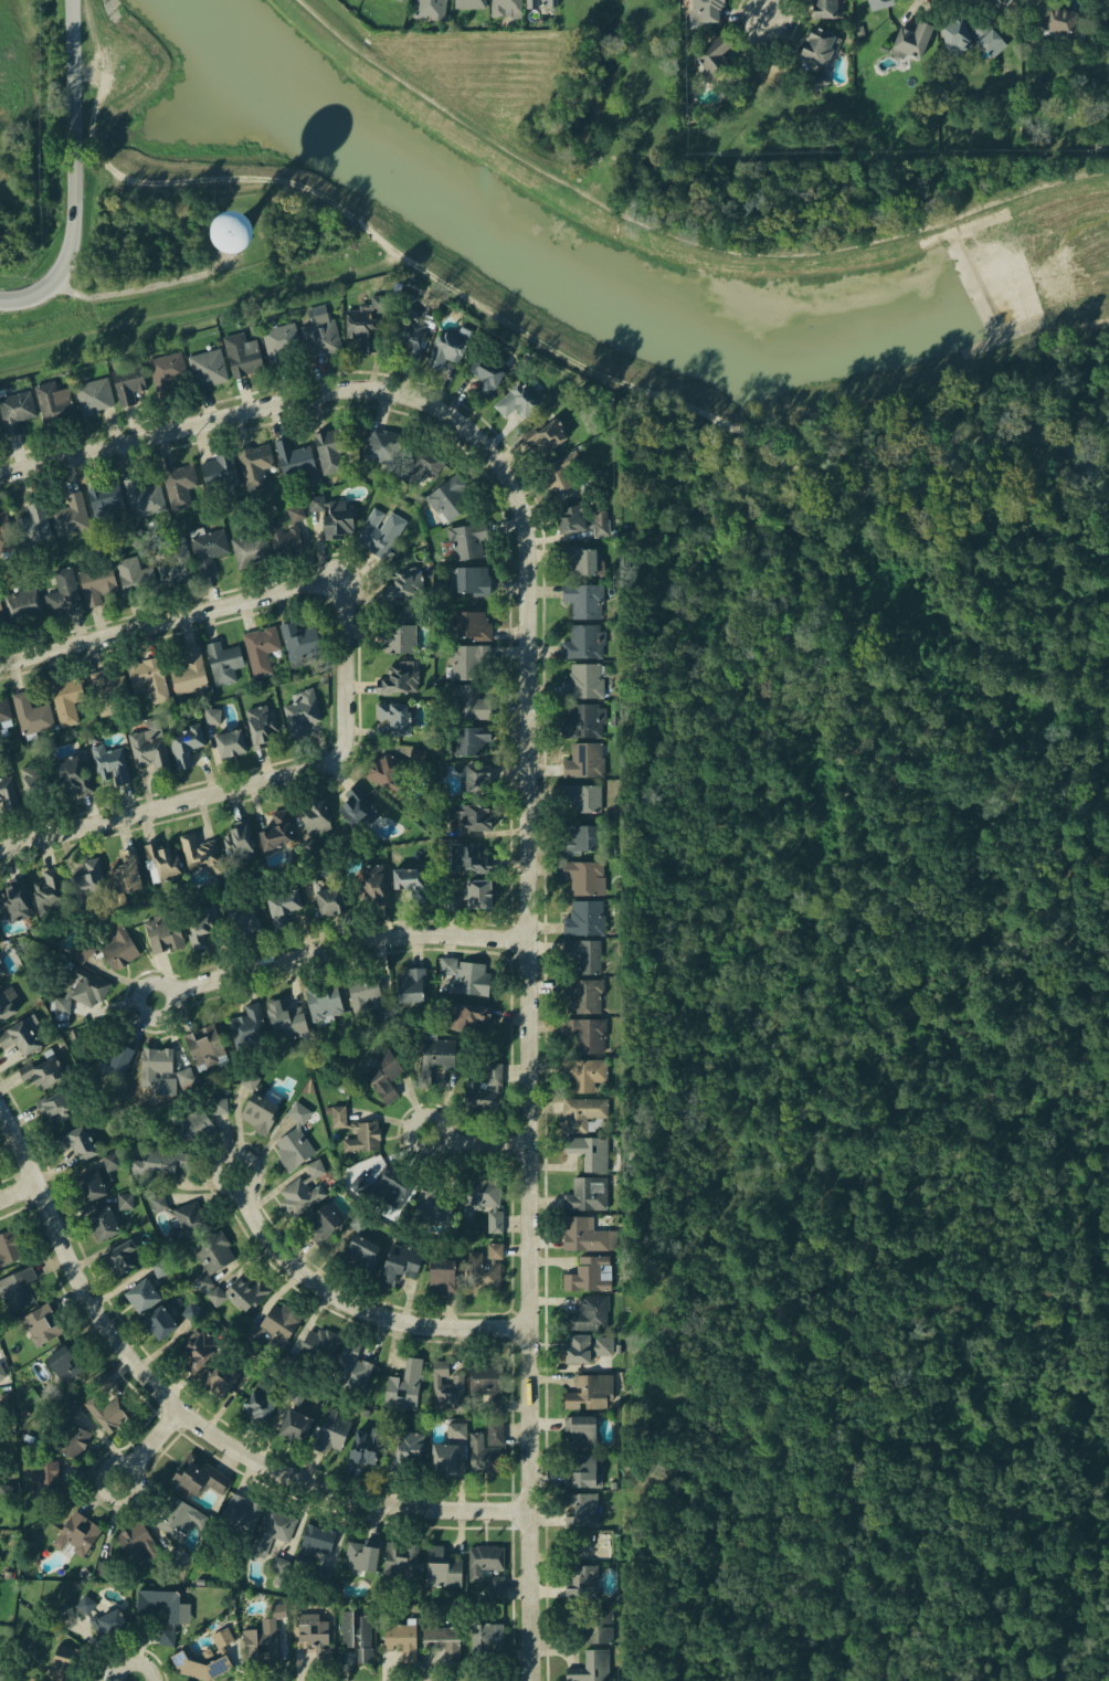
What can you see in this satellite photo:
building: (398, 0)
building: (400, 0)
building: (994, 0)
building: (469, 3)
building: (540, 3)
building: (874, 3)
building: (506, 8)
building: (818, 8)
building: (429, 10)
road: (770, 10)
building: (698, 11)
building: (1052, 20)
building: (949, 32)
building: (906, 35)
building: (987, 41)
building: (812, 43)
road: (765, 49)
building: (715, 54)
park: (558, 78)
building: (818, 81)
park: (767, 110)
road: (75, 173)
road: (35, 212)
road: (371, 232)
building: (230, 233)
water tower: (231, 233)
road: (148, 287)
road: (74, 300)
river: (619, 302)
road: (200, 303)
building: (317, 330)
building: (365, 330)
building: (412, 337)
building: (282, 342)
building: (443, 348)
building: (242, 352)
building: (207, 367)
building: (167, 372)
building: (485, 372)
building: (127, 389)
building: (93, 395)
building: (517, 400)
building: (53, 403)
building: (15, 411)
road: (232, 417)
building: (552, 432)
building: (0, 433)
building: (380, 445)
building: (330, 450)
building: (294, 455)
building: (254, 463)
building: (422, 463)
building: (218, 472)
building: (561, 472)
building: (179, 482)
building: (145, 495)
building: (447, 497)
building: (106, 503)
building: (296, 512)
building: (67, 514)
building: (336, 516)
building: (581, 517)
building: (30, 521)
building: (4, 531)
building: (379, 532)
building: (464, 542)
building: (265, 543)
building: (208, 549)
building: (172, 562)
building: (584, 568)
building: (135, 577)
building: (471, 580)
building: (97, 582)
building: (402, 584)
building: (63, 592)
building: (23, 604)
building: (584, 604)
road: (207, 611)
building: (1, 617)
building: (472, 625)
building: (397, 637)
building: (582, 642)
building: (297, 643)
building: (261, 649)
building: (469, 658)
building: (223, 662)
building: (189, 672)
building: (145, 680)
building: (400, 680)
building: (584, 684)
building: (108, 693)
building: (66, 698)
building: (468, 701)
building: (3, 709)
building: (299, 712)
building: (29, 713)
building: (213, 715)
building: (393, 718)
building: (260, 725)
building: (585, 726)
building: (0, 740)
building: (468, 740)
building: (184, 741)
building: (229, 742)
building: (149, 749)
building: (416, 757)
building: (109, 763)
building: (585, 765)
building: (387, 772)
building: (74, 773)
building: (476, 779)
building: (36, 783)
building: (7, 794)
road: (215, 794)
building: (584, 802)
building: (357, 807)
building: (313, 815)
building: (469, 816)
building: (274, 832)
building: (237, 843)
building: (582, 845)
building: (198, 852)
building: (473, 858)
building: (161, 860)
building: (307, 875)
building: (124, 877)
building: (585, 877)
building: (373, 884)
building: (86, 885)
building: (409, 886)
building: (50, 891)
building: (469, 897)
building: (14, 899)
building: (328, 900)
building: (283, 906)
building: (242, 918)
building: (585, 919)
building: (197, 924)
building: (160, 932)
road: (352, 943)
building: (118, 948)
building: (83, 951)
building: (585, 954)
building: (1, 972)
building: (467, 975)
building: (411, 983)
building: (83, 987)
building: (362, 990)
building: (585, 995)
building: (7, 1001)
building: (323, 1001)
building: (385, 1014)
building: (463, 1015)
building: (284, 1019)
building: (249, 1026)
building: (587, 1034)
building: (18, 1037)
road: (537, 1042)
building: (203, 1048)
building: (113, 1053)
building: (436, 1057)
building: (156, 1061)
building: (40, 1072)
building: (585, 1072)
building: (494, 1074)
building: (382, 1075)
building: (479, 1093)
building: (53, 1106)
building: (218, 1106)
building: (258, 1112)
building: (581, 1112)
building: (190, 1120)
building: (367, 1127)
building: (75, 1141)
road: (482, 1141)
building: (293, 1145)
building: (591, 1151)
building: (110, 1161)
building: (159, 1161)
building: (316, 1169)
building: (87, 1185)
building: (385, 1186)
road: (21, 1191)
building: (587, 1193)
building: (299, 1196)
building: (487, 1197)
building: (125, 1201)
building: (157, 1202)
building: (431, 1208)
building: (190, 1222)
building: (357, 1222)
building: (101, 1223)
building: (321, 1223)
building: (588, 1235)
building: (8, 1247)
building: (494, 1250)
building: (361, 1252)
building: (211, 1256)
building: (120, 1257)
building: (400, 1261)
building: (159, 1266)
building: (483, 1272)
building: (442, 1276)
building: (585, 1278)
building: (15, 1288)
building: (239, 1289)
building: (140, 1294)
road: (360, 1310)
building: (192, 1311)
building: (590, 1312)
building: (158, 1321)
building: (40, 1323)
building: (276, 1326)
building: (323, 1343)
building: (584, 1347)
building: (194, 1349)
building: (61, 1365)
building: (350, 1367)
building: (1, 1373)
building: (219, 1376)
building: (104, 1381)
building: (486, 1382)
building: (404, 1385)
building: (446, 1387)
building: (589, 1392)
building: (258, 1404)
building: (68, 1408)
road: (191, 1410)
building: (107, 1412)
building: (294, 1425)
building: (332, 1430)
building: (456, 1430)
building: (580, 1430)
building: (495, 1432)
building: (68, 1439)
building: (368, 1444)
road: (155, 1445)
building: (406, 1449)
building: (483, 1455)
building: (442, 1456)
building: (584, 1470)
building: (198, 1472)
building: (42, 1479)
building: (581, 1509)
building: (241, 1513)
building: (177, 1518)
building: (274, 1527)
building: (75, 1533)
building: (319, 1537)
building: (592, 1545)
building: (135, 1546)
building: (362, 1554)
building: (179, 1558)
building: (401, 1560)
building: (485, 1561)
building: (442, 1568)
building: (579, 1580)
building: (495, 1583)
building: (85, 1604)
building: (160, 1611)
building: (110, 1625)
building: (598, 1626)
building: (315, 1634)
building: (358, 1635)
building: (222, 1636)
building: (263, 1639)
building: (401, 1639)
building: (444, 1640)
building: (490, 1641)
building: (0, 1660)
building: (200, 1666)
building: (56, 1667)
building: (591, 1667)

